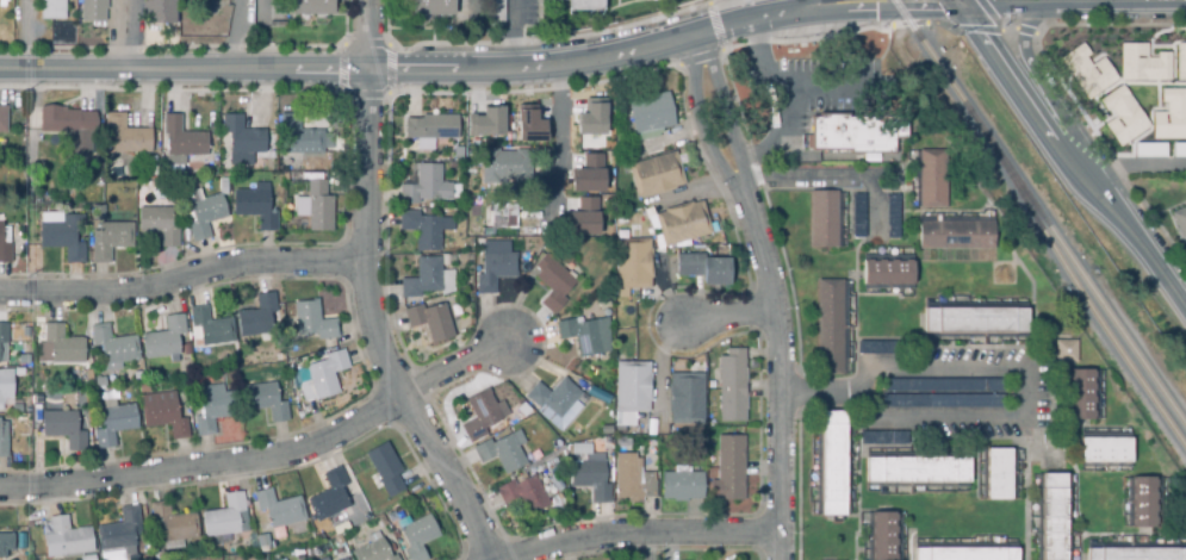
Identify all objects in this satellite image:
road: (1109, 0)
road: (1147, 0)
road: (1058, 1)
road: (1083, 1)
road: (957, 2)
road: (1001, 2)
road: (1053, 2)
building: (583, 5)
traffic signals: (960, 5)
building: (311, 7)
building: (51, 8)
road: (766, 8)
building: (94, 10)
road: (260, 10)
building: (442, 10)
building: (159, 12)
building: (277, 13)
building: (496, 13)
road: (1109, 24)
road: (996, 29)
road: (1008, 29)
road: (1024, 30)
road: (837, 33)
road: (236, 35)
road: (366, 35)
road: (514, 35)
road: (551, 38)
road: (387, 45)
road: (172, 46)
road: (721, 48)
railway: (931, 54)
road: (1027, 62)
building: (1179, 62)
building: (1140, 63)
road: (483, 71)
building: (1086, 71)
road: (170, 89)
road: (534, 89)
power tower: (23, 91)
building: (652, 113)
building: (1117, 116)
building: (1169, 116)
building: (2, 118)
building: (592, 118)
building: (486, 120)
building: (60, 123)
building: (529, 123)
building: (434, 127)
building: (855, 133)
building: (300, 136)
building: (126, 137)
building: (187, 137)
building: (243, 137)
road: (558, 137)
building: (666, 148)
road: (1068, 161)
road: (1131, 166)
building: (507, 167)
building: (590, 173)
road: (832, 174)
building: (657, 175)
building: (932, 179)
building: (427, 187)
building: (319, 207)
building: (256, 209)
building: (98, 213)
building: (205, 217)
building: (504, 217)
building: (583, 217)
building: (859, 217)
building: (894, 217)
building: (825, 220)
building: (1179, 222)
building: (682, 223)
building: (159, 225)
building: (424, 234)
building: (957, 235)
building: (66, 238)
building: (111, 241)
building: (4, 249)
building: (632, 265)
building: (493, 267)
railway: (1078, 268)
power tower: (20, 269)
building: (702, 269)
building: (887, 272)
road: (182, 279)
building: (427, 280)
building: (554, 281)
railway: (1074, 281)
road: (769, 292)
road: (726, 316)
building: (256, 317)
building: (433, 321)
building: (974, 321)
building: (828, 322)
building: (309, 323)
building: (209, 329)
road: (371, 329)
building: (2, 334)
building: (585, 336)
building: (163, 341)
building: (60, 346)
building: (112, 348)
building: (876, 349)
building: (185, 350)
building: (1064, 350)
road: (1012, 362)
road: (454, 368)
building: (136, 374)
building: (321, 377)
building: (87, 378)
building: (98, 384)
building: (731, 386)
building: (939, 386)
building: (1, 387)
building: (632, 387)
building: (1081, 396)
building: (598, 397)
building: (684, 399)
building: (942, 402)
building: (263, 403)
building: (559, 405)
building: (212, 409)
building: (162, 415)
building: (479, 416)
building: (113, 425)
building: (62, 430)
building: (882, 438)
building: (2, 443)
building: (621, 444)
building: (1104, 450)
building: (498, 454)
road: (206, 465)
building: (831, 465)
building: (727, 469)
building: (385, 471)
building: (917, 471)
building: (998, 474)
building: (631, 480)
building: (589, 481)
building: (681, 486)
building: (523, 494)
building: (328, 497)
building: (1142, 503)
power tower: (26, 504)
building: (278, 511)
building: (223, 517)
building: (1053, 517)
building: (172, 527)
road: (641, 533)
building: (118, 535)
building: (416, 536)
building: (882, 537)
building: (66, 540)
building: (336, 540)
building: (5, 545)
building: (372, 550)
building: (965, 554)
building: (1136, 554)
building: (88, 556)
building: (317, 556)
building: (344, 559)

